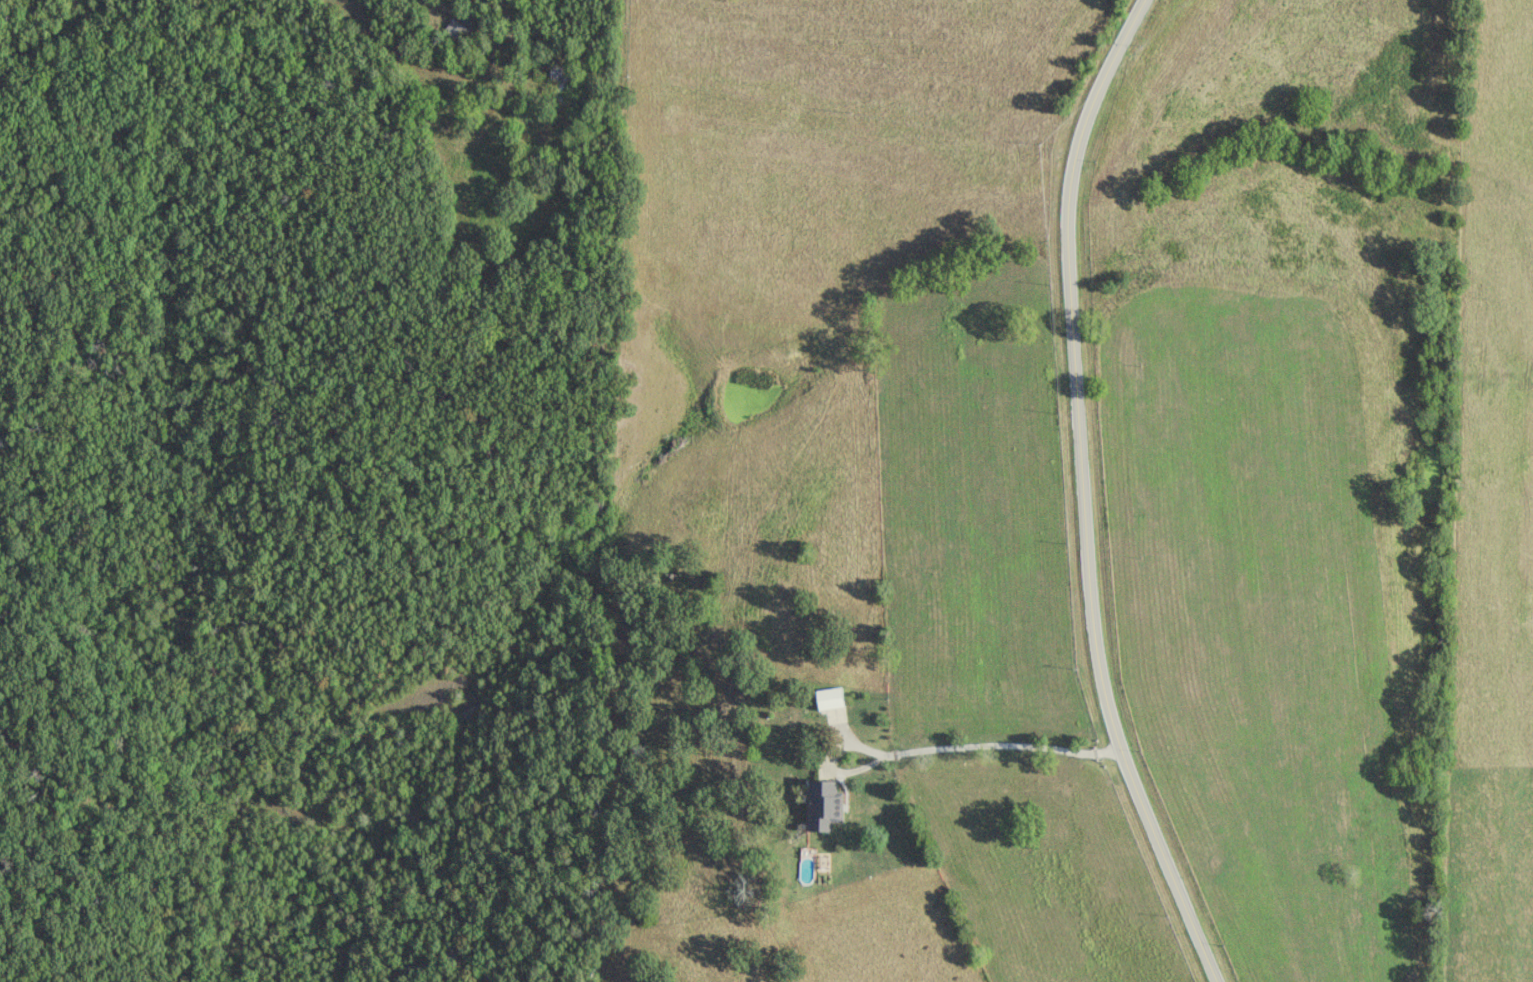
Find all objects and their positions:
road: (1100, 492)
building: (831, 698)
road: (935, 749)

